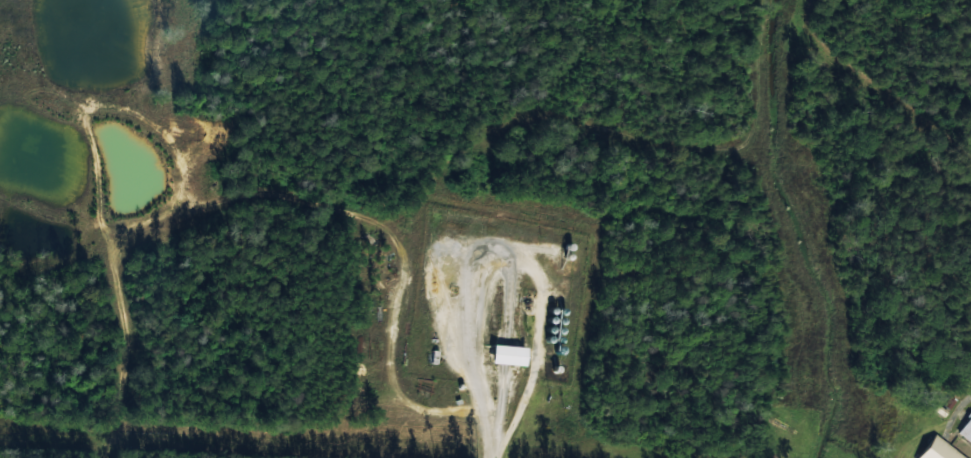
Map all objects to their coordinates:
building: (509, 354)
building: (966, 431)
building: (939, 450)

